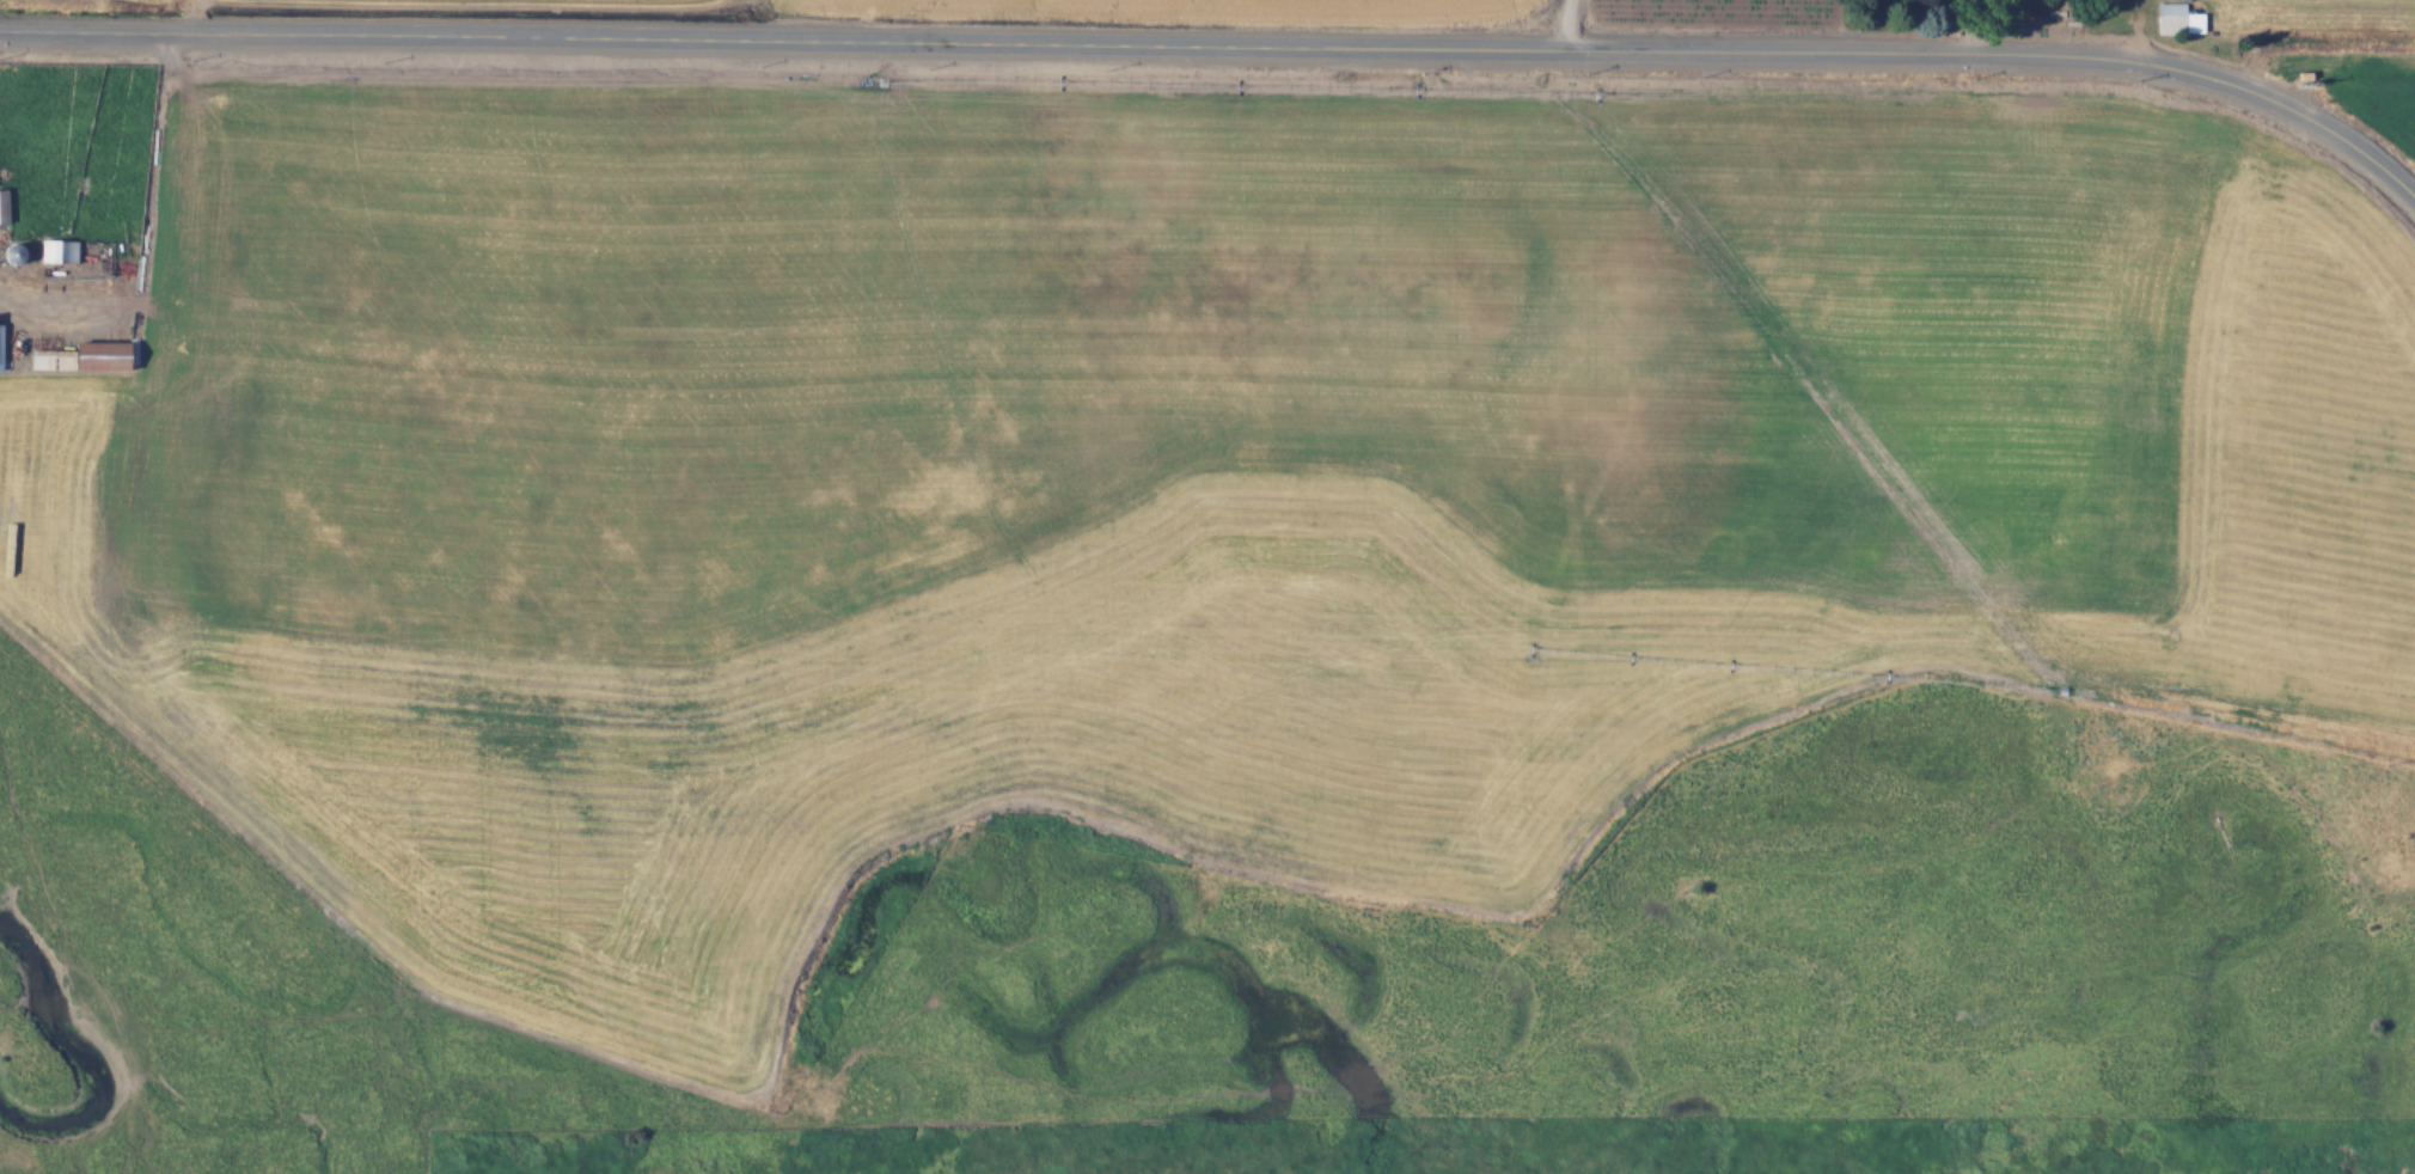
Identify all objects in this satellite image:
crop: (1690, 6)
building: (2178, 18)
road: (1567, 25)
road: (1224, 47)
building: (5, 204)
building: (60, 246)
building: (13, 252)
building: (2, 341)
building: (85, 353)

